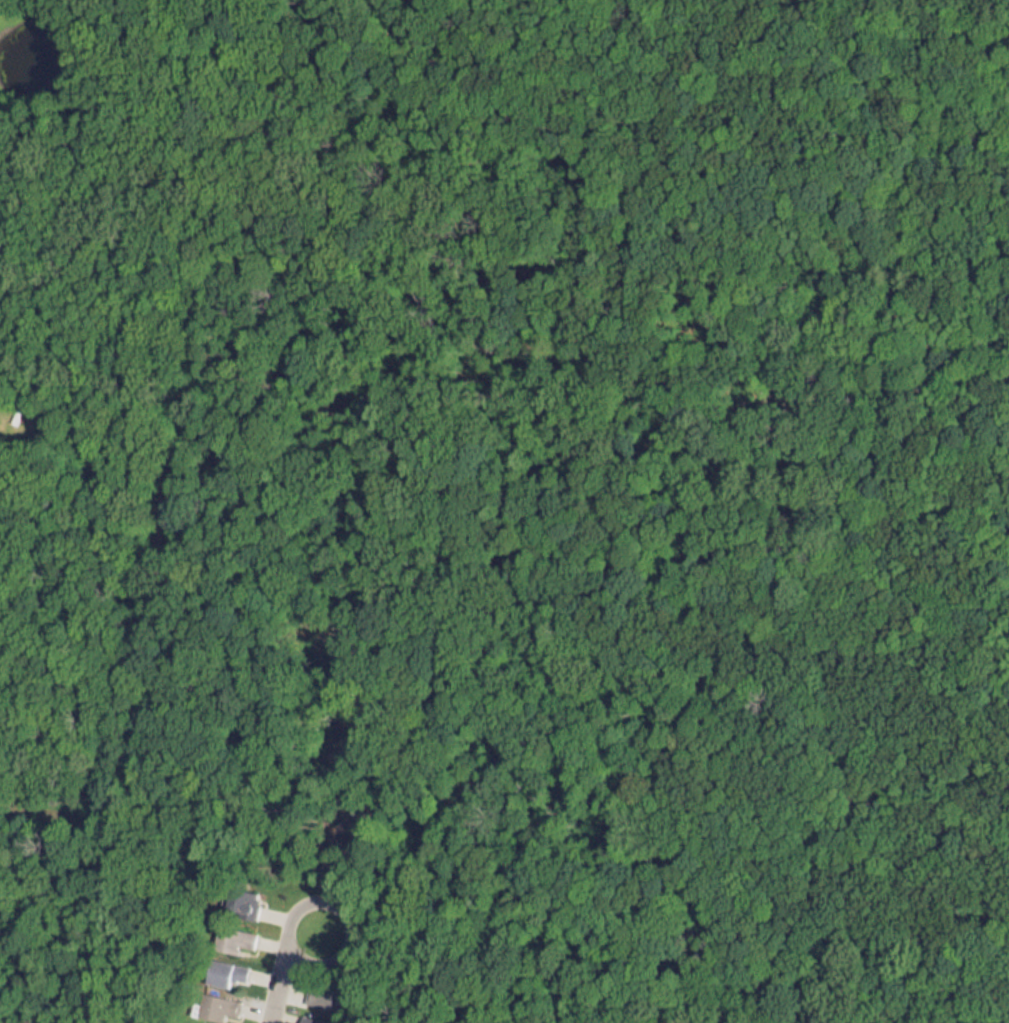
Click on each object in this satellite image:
building: (232, 934)
road: (332, 959)
building: (223, 967)
road: (275, 985)
building: (216, 1002)
building: (313, 1017)
building: (198, 1021)

